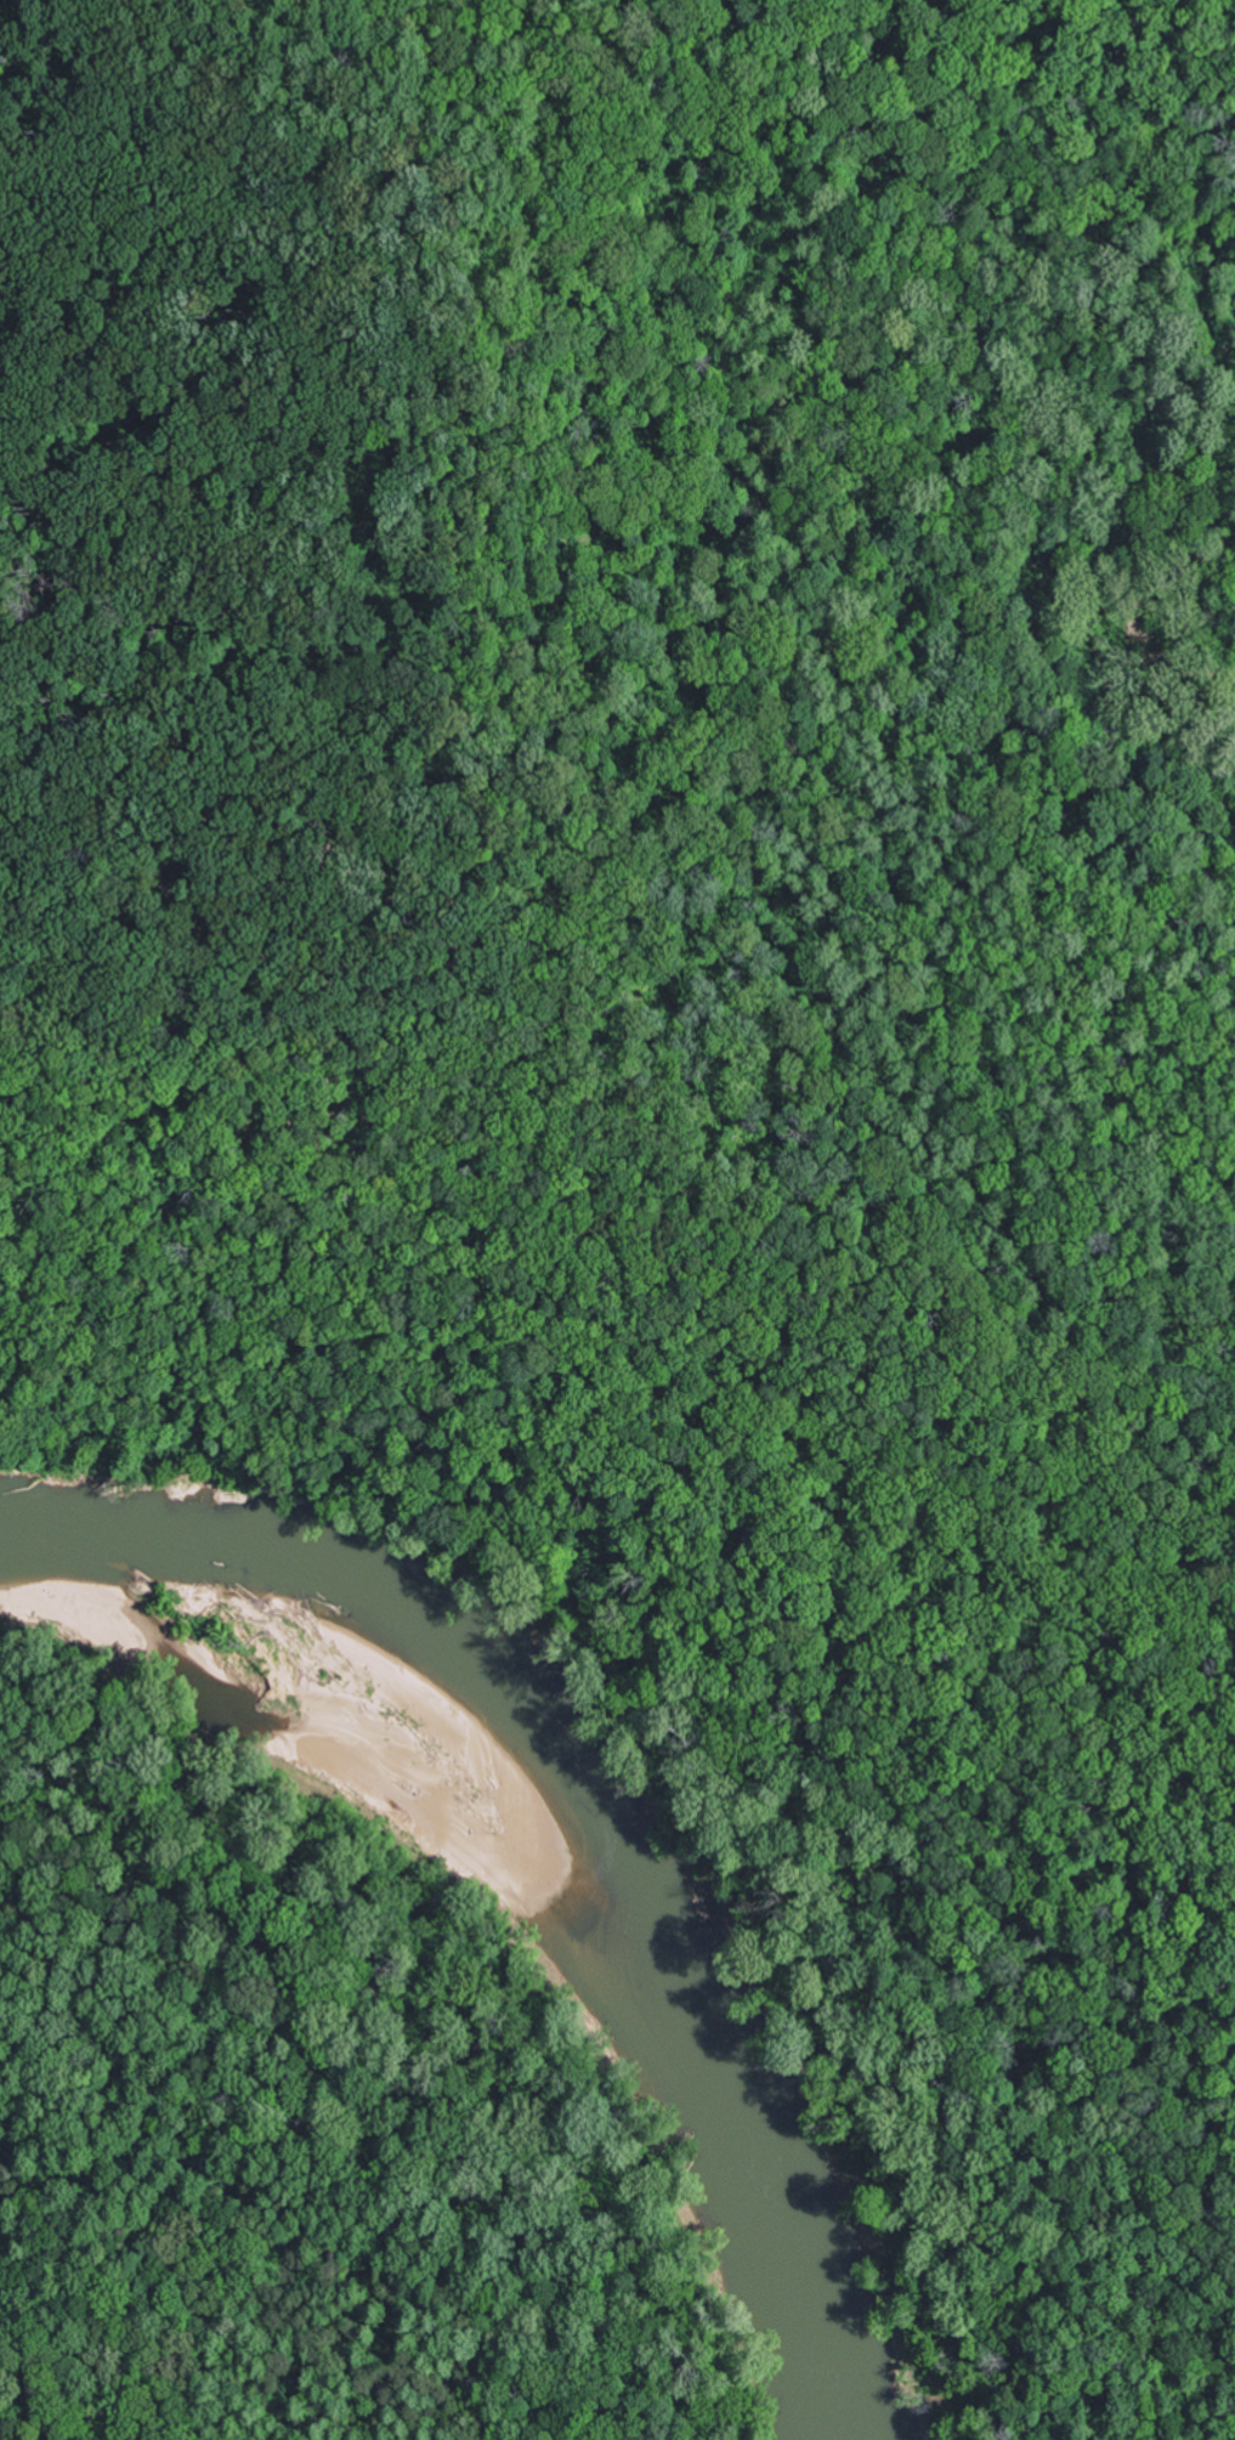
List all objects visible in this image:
road: (205, 404)
river: (585, 1795)

